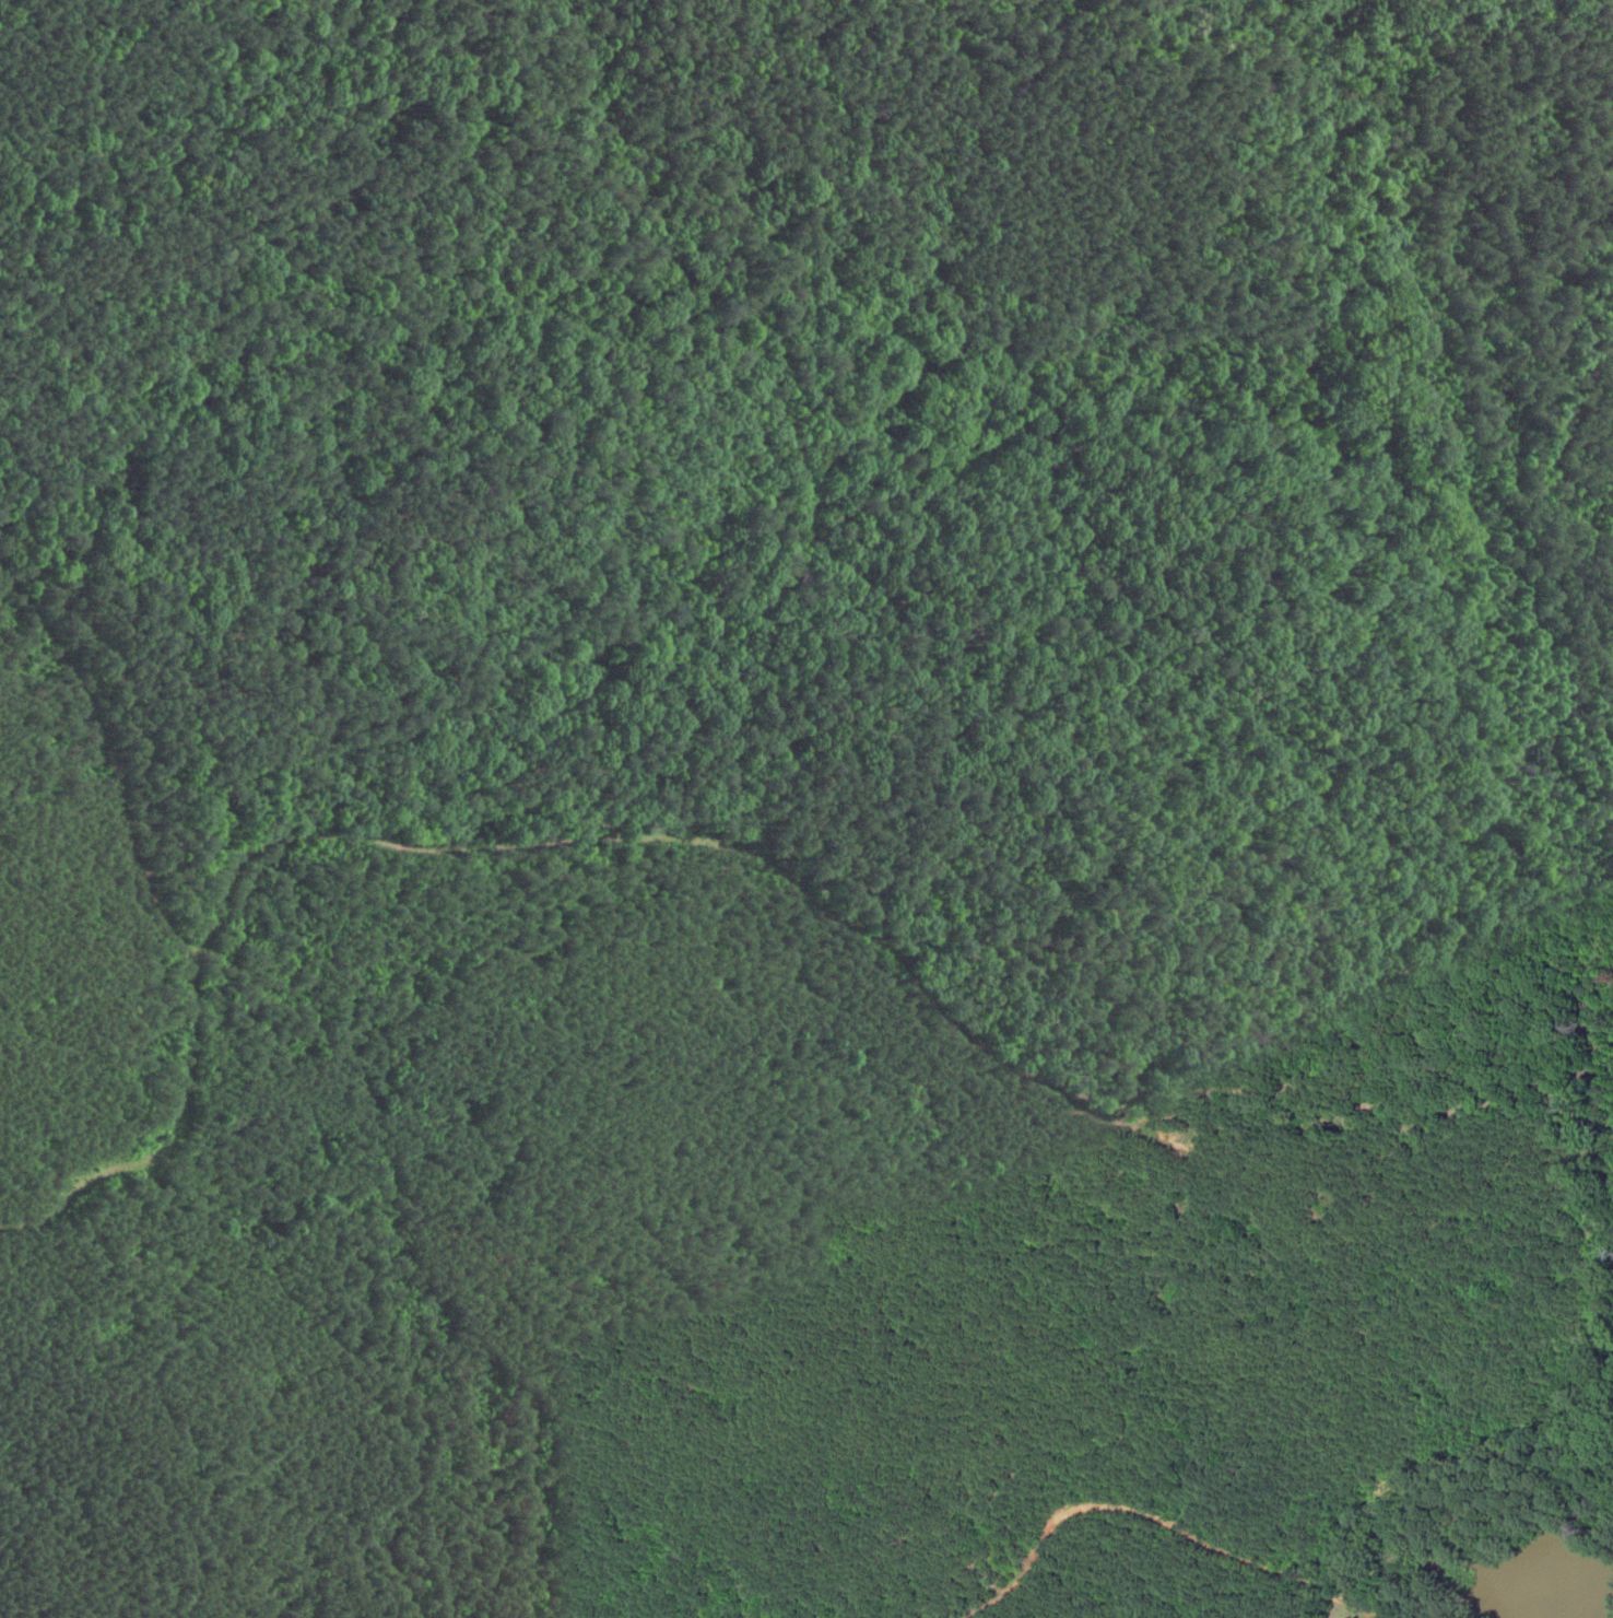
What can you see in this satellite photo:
road: (1147, 1564)

